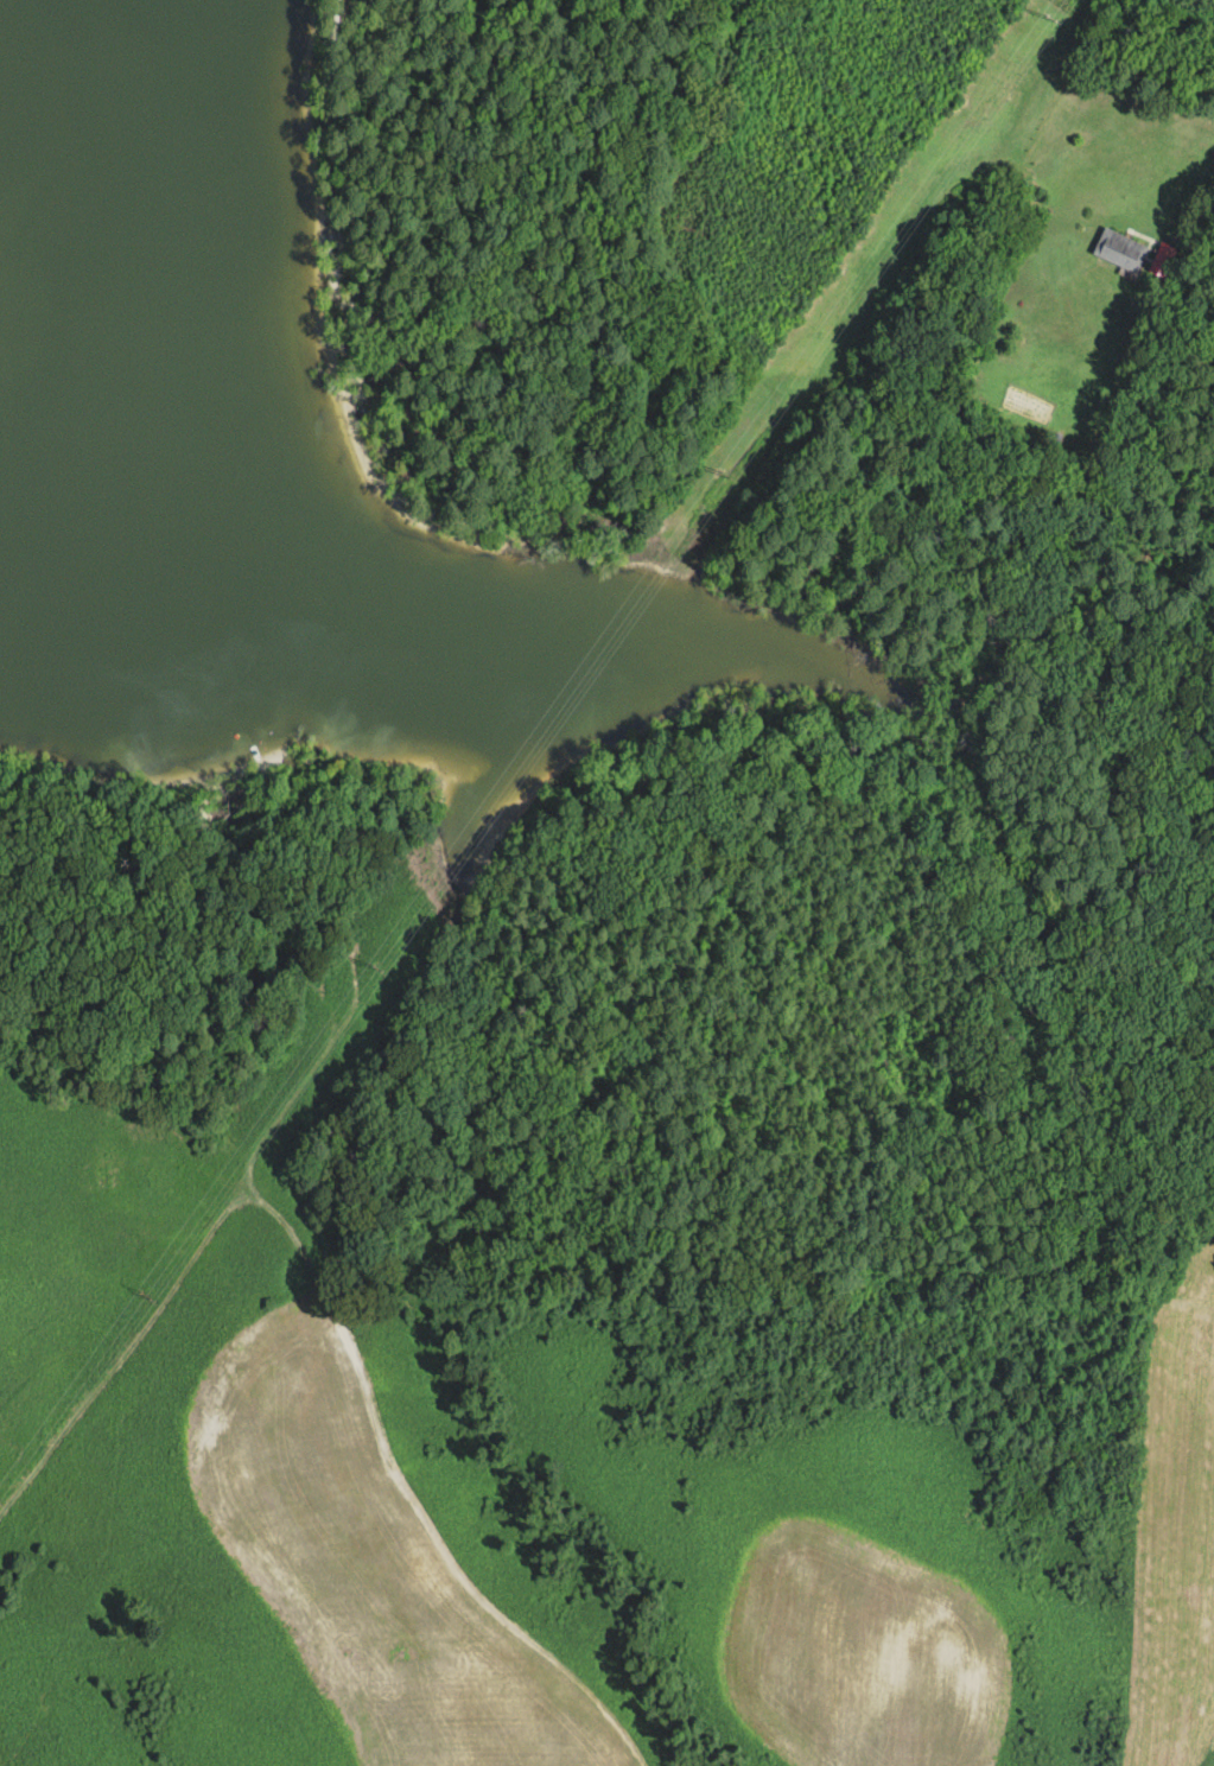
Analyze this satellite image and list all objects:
power tower: (1053, 18)
building: (1120, 249)
power tower: (727, 472)
power tower: (379, 967)
power tower: (148, 1294)

